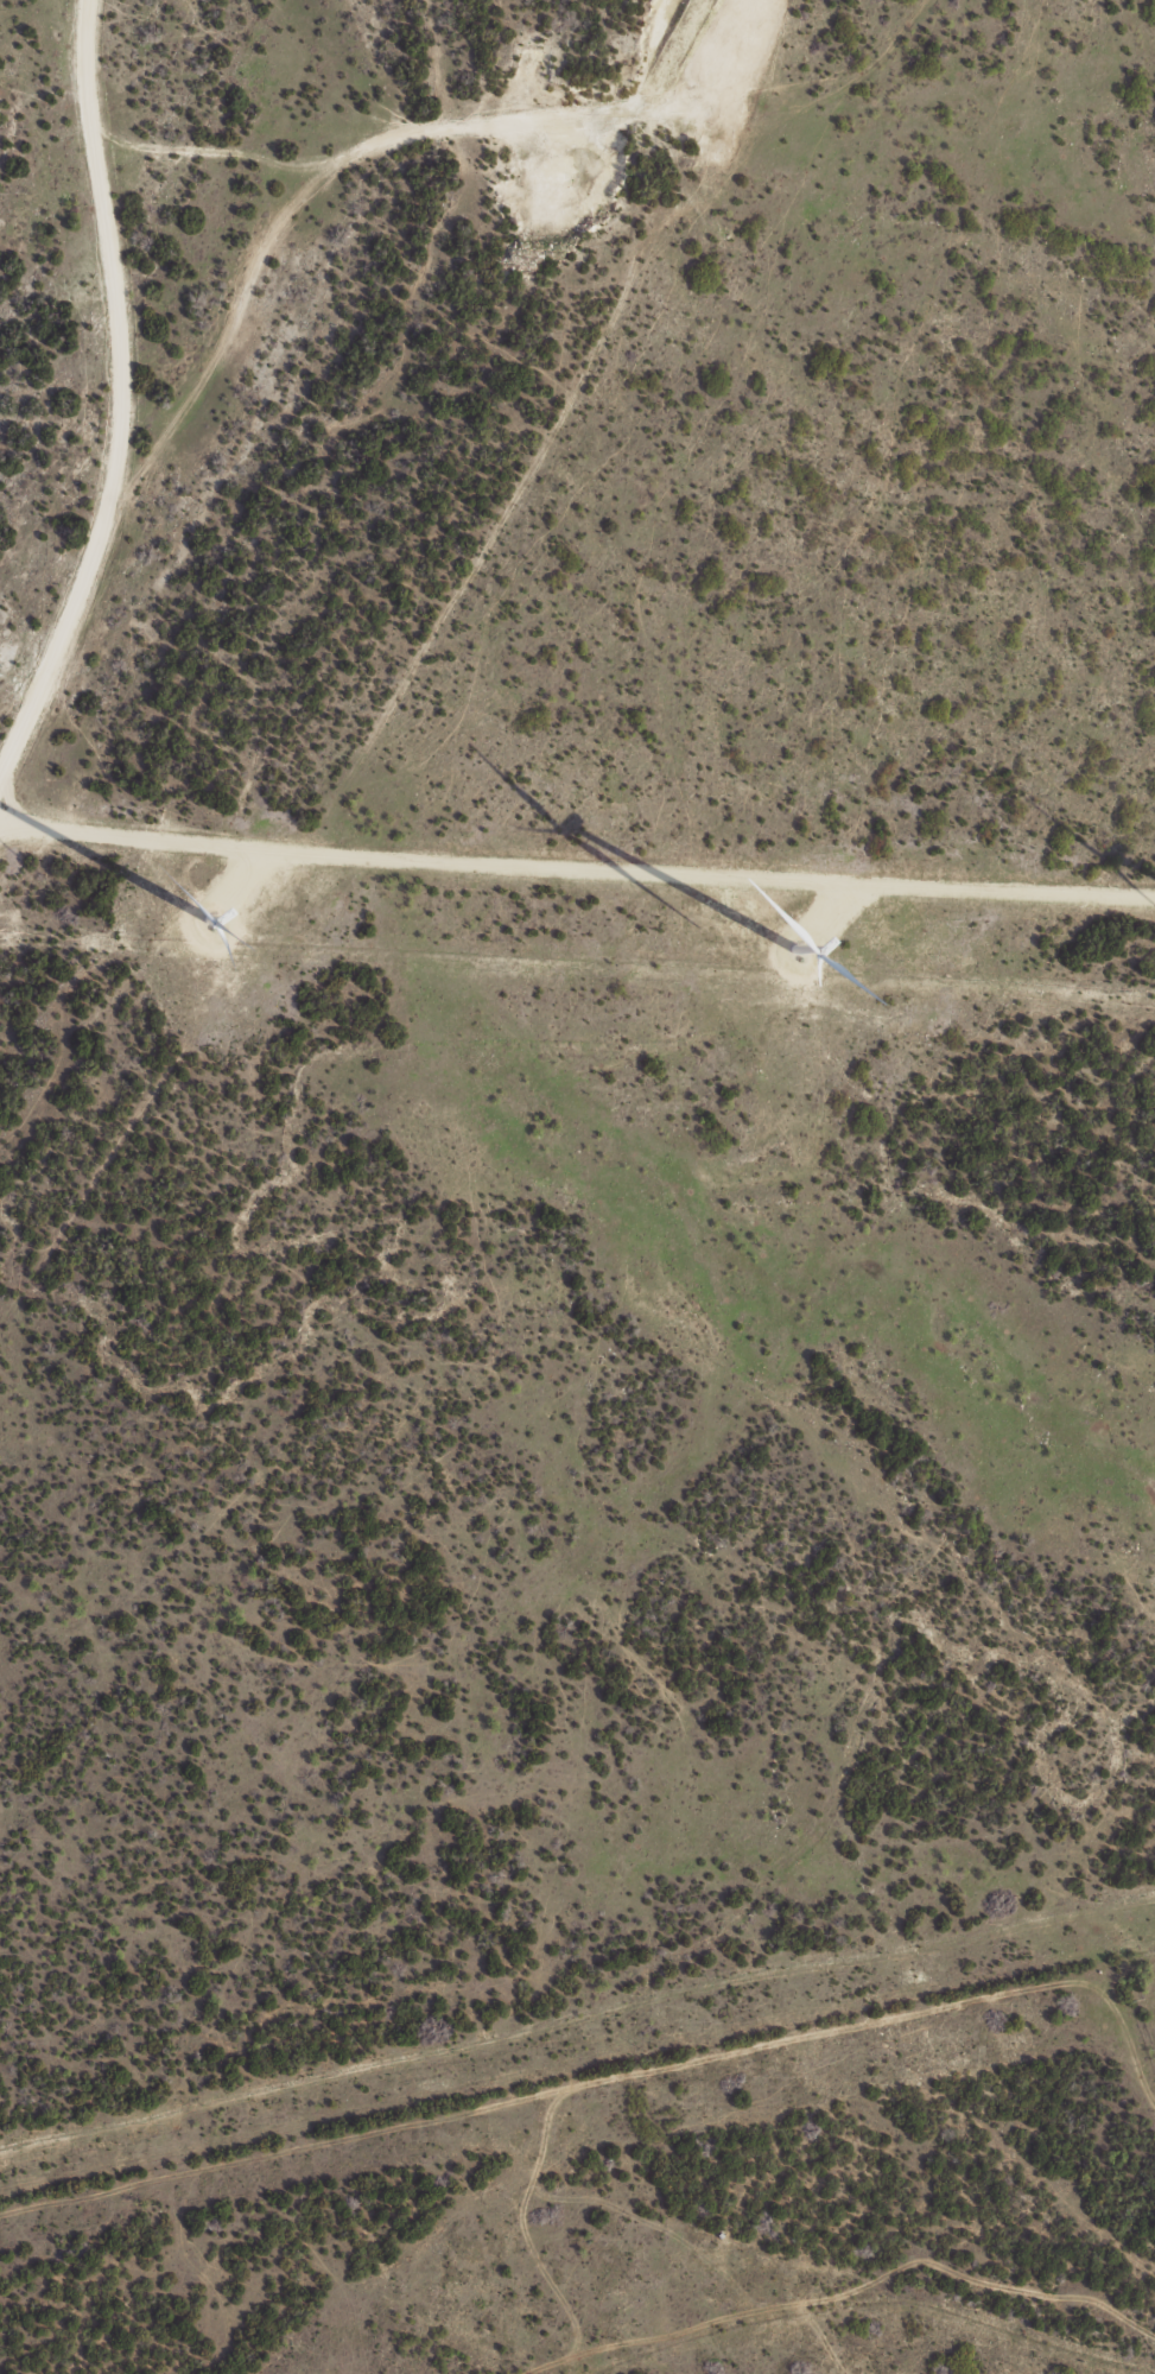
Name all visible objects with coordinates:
road: (110, 399)
wind turbine: (227, 916)
wind turbine: (818, 945)

